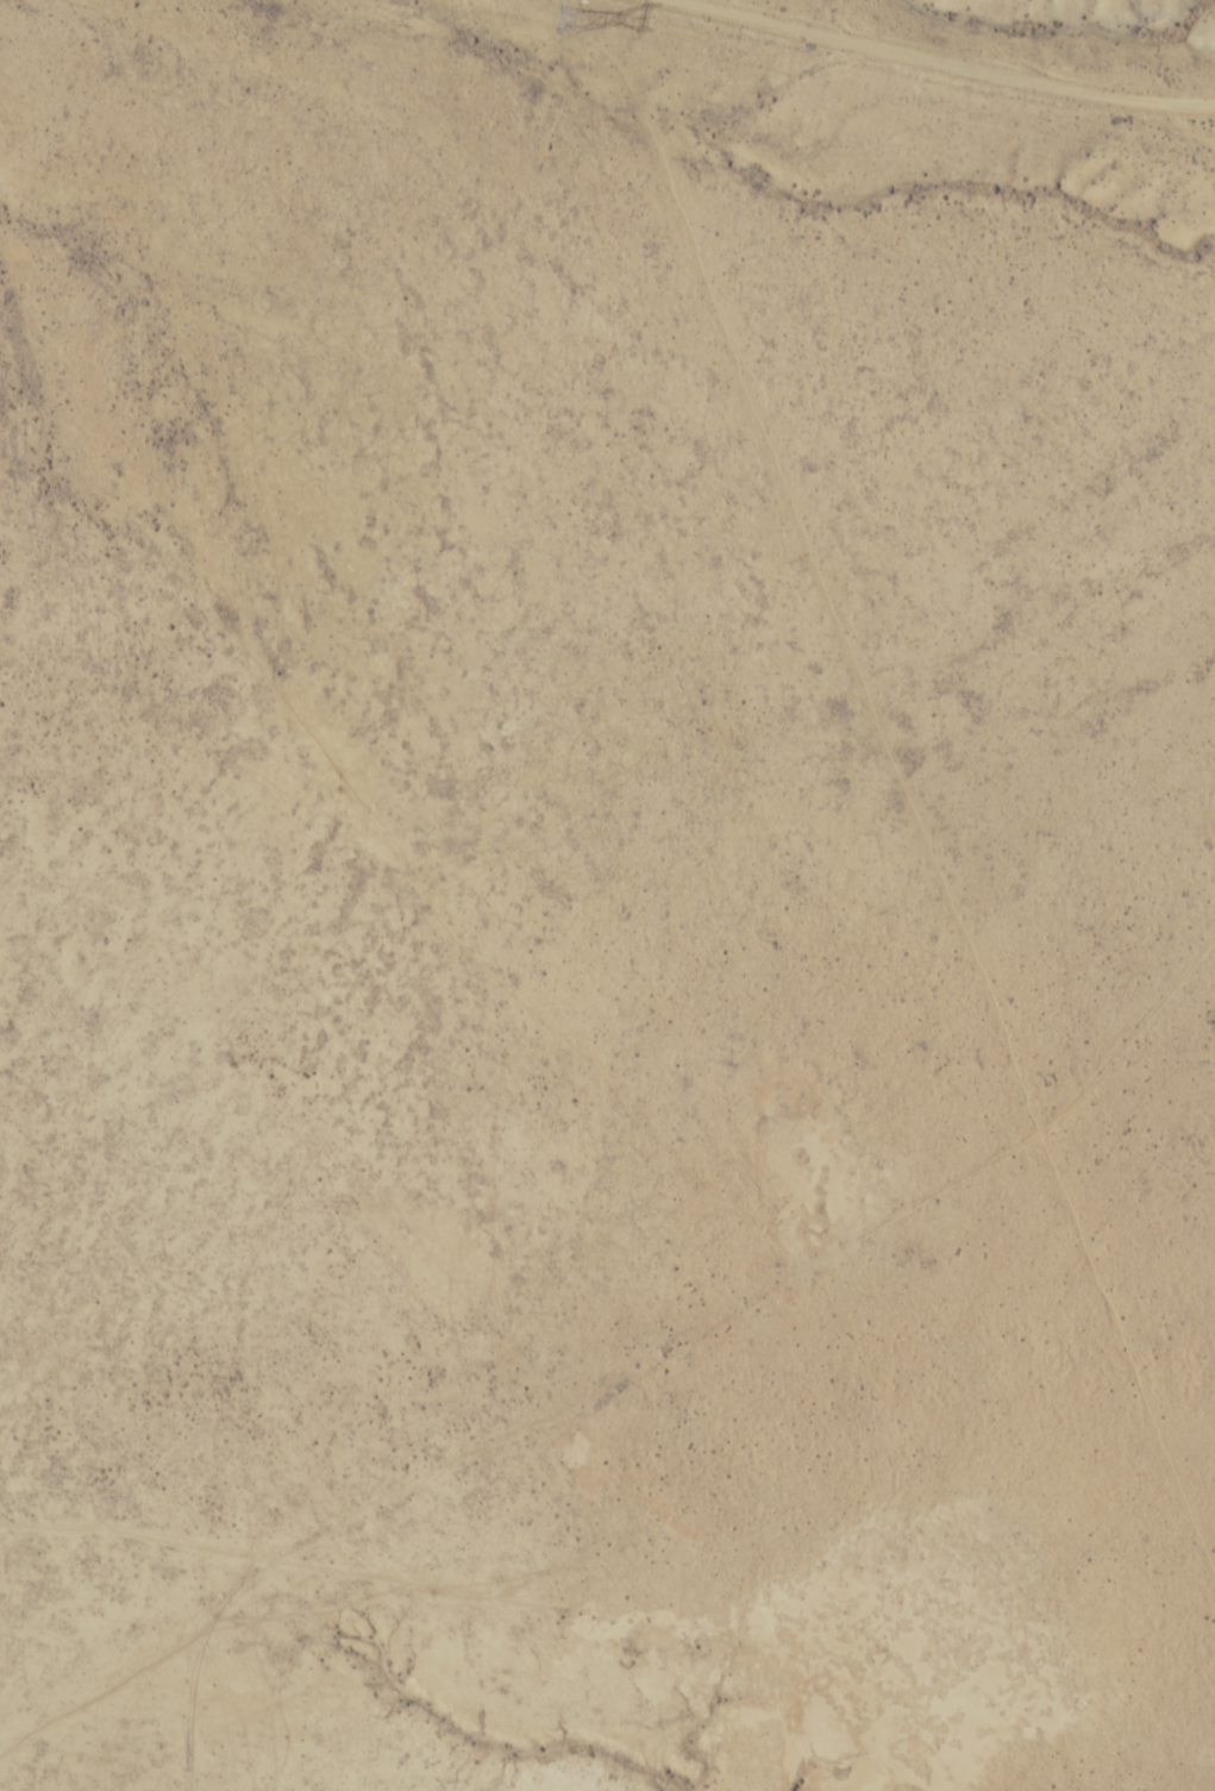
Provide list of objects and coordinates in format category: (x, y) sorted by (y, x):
power tower: (559, 0)
road: (1008, 43)
road: (665, 1286)

